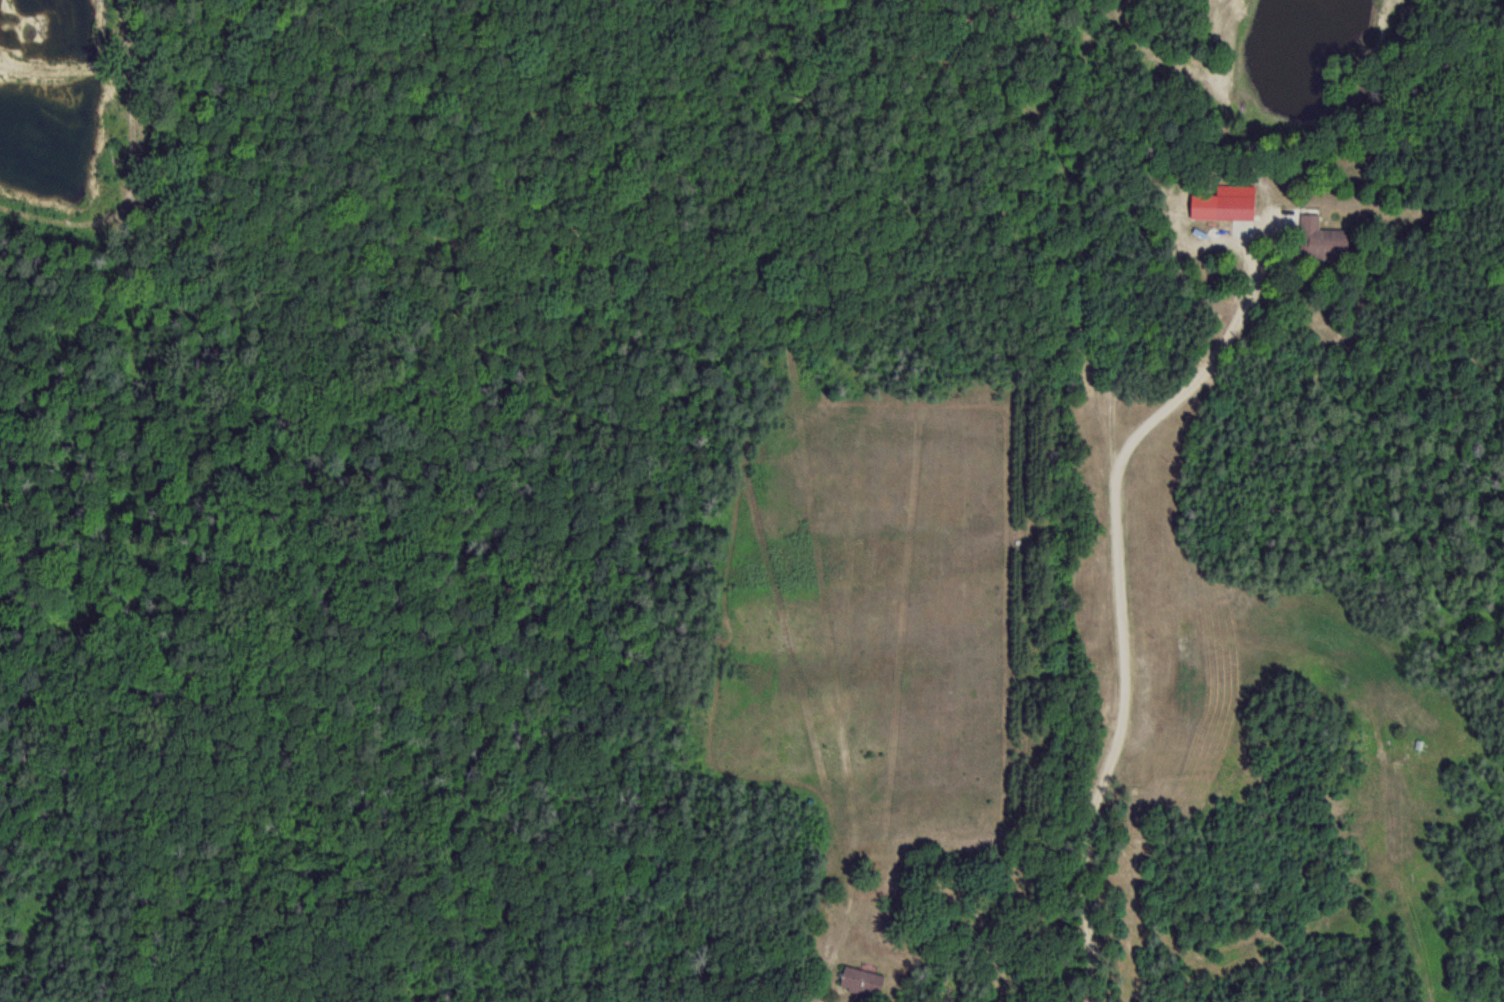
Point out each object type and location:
building: (1234, 202)
building: (1320, 239)
road: (1237, 241)
road: (1064, 501)
road: (1120, 734)
building: (860, 982)
building: (691, 1000)

